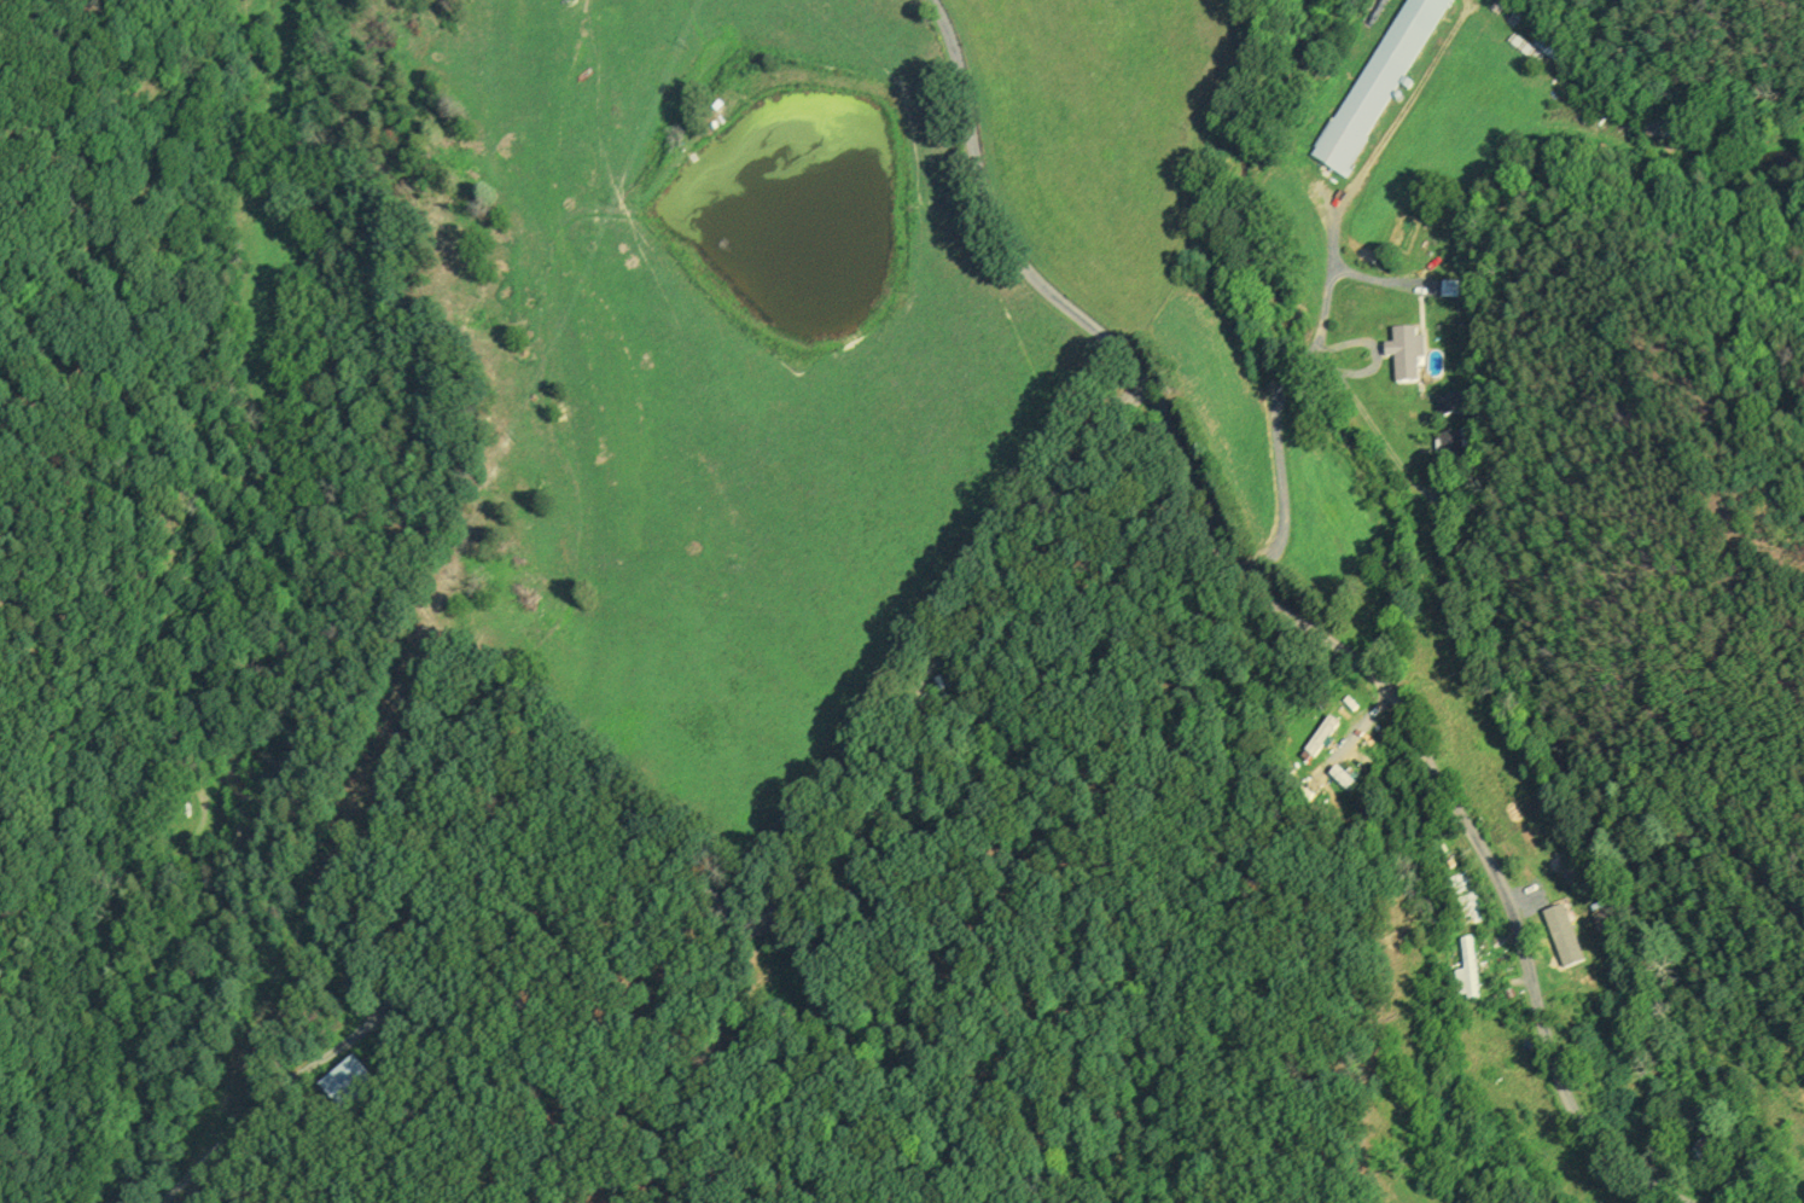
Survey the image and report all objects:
building: (1380, 79)
building: (1664, 128)
building: (1407, 354)
building: (1454, 406)
road: (1284, 414)
building: (1455, 447)
road: (1298, 615)
building: (1321, 737)
building: (1350, 788)
road: (674, 842)
building: (1601, 923)
building: (1558, 926)
building: (1465, 970)
building: (347, 1086)
building: (1710, 1158)

